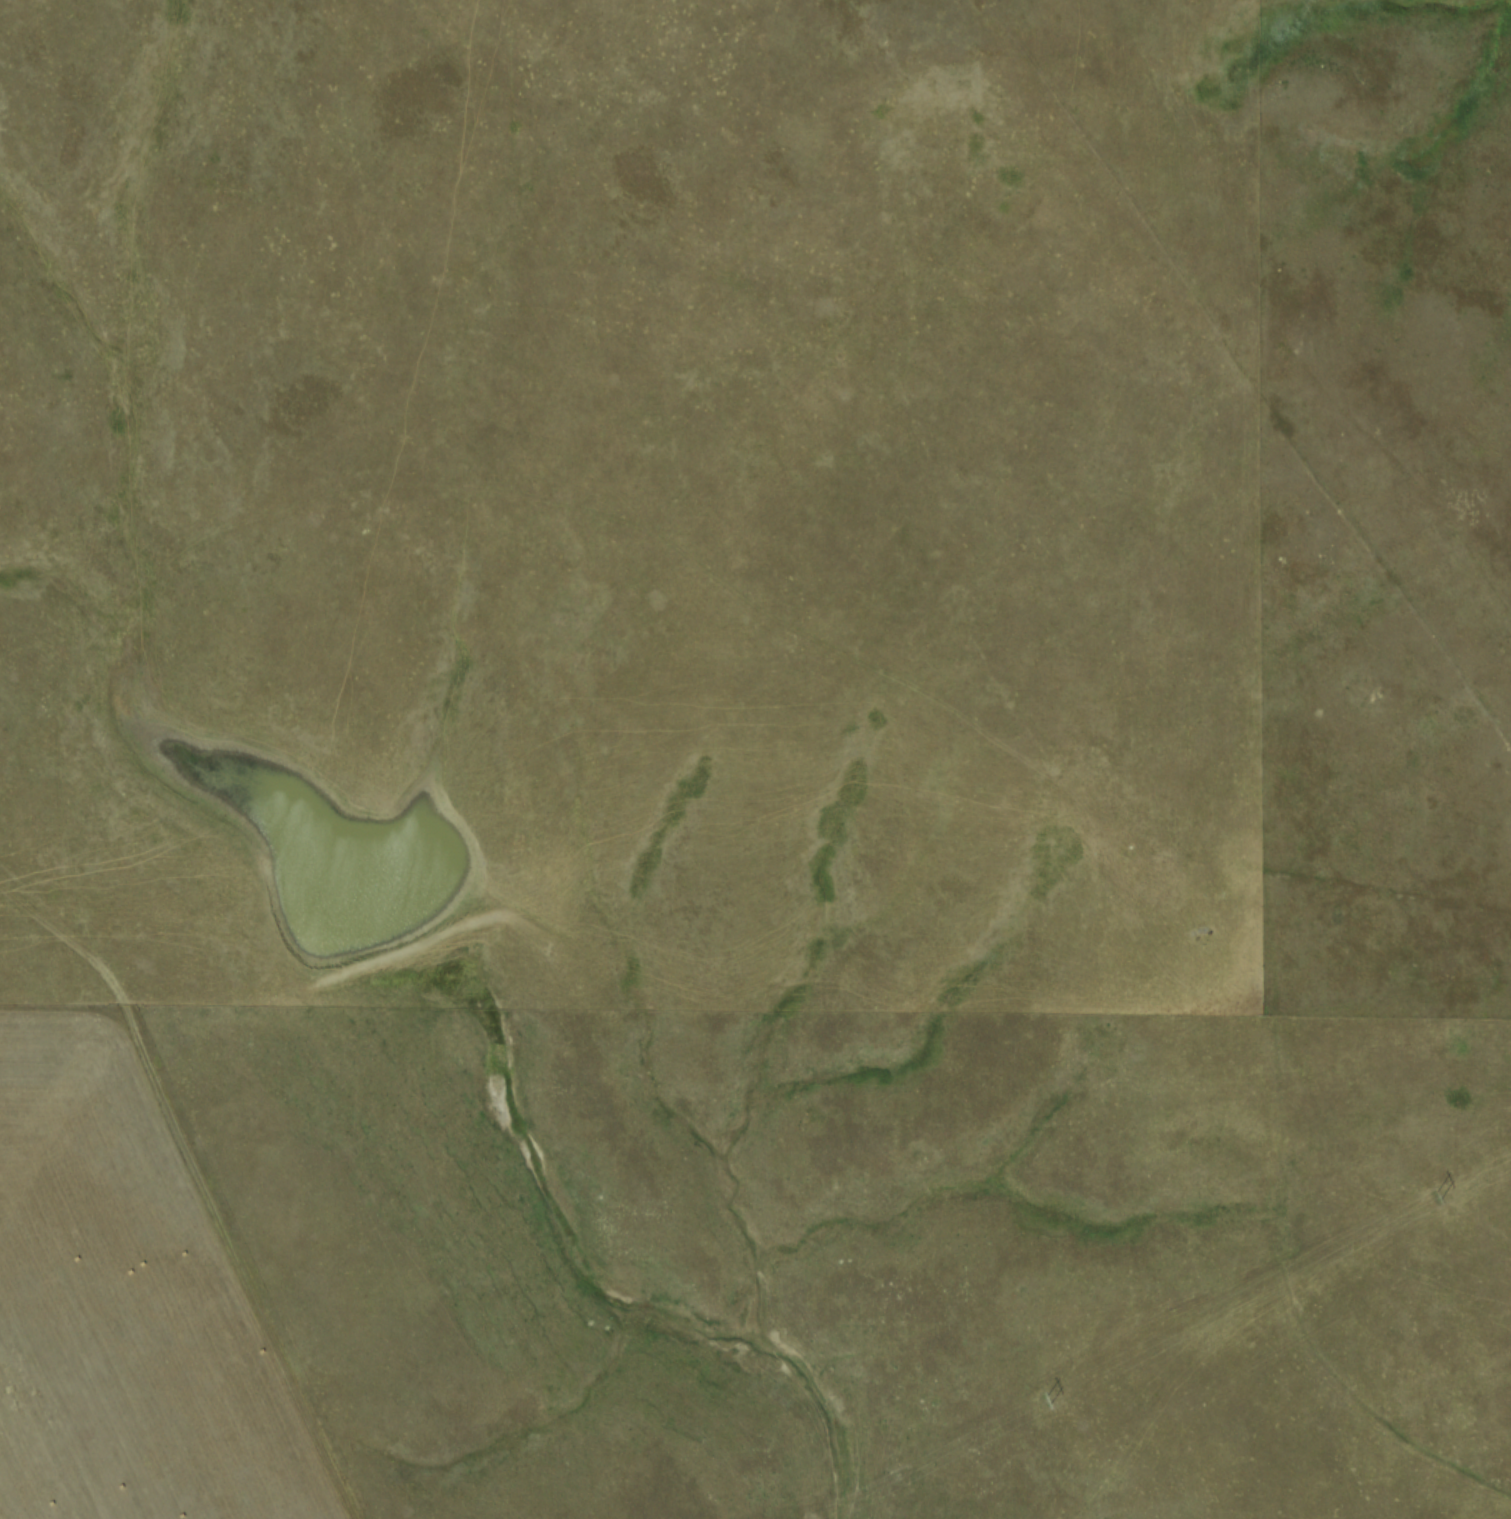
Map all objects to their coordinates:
road: (209, 1176)
power tower: (1435, 1197)
power tower: (1044, 1399)

